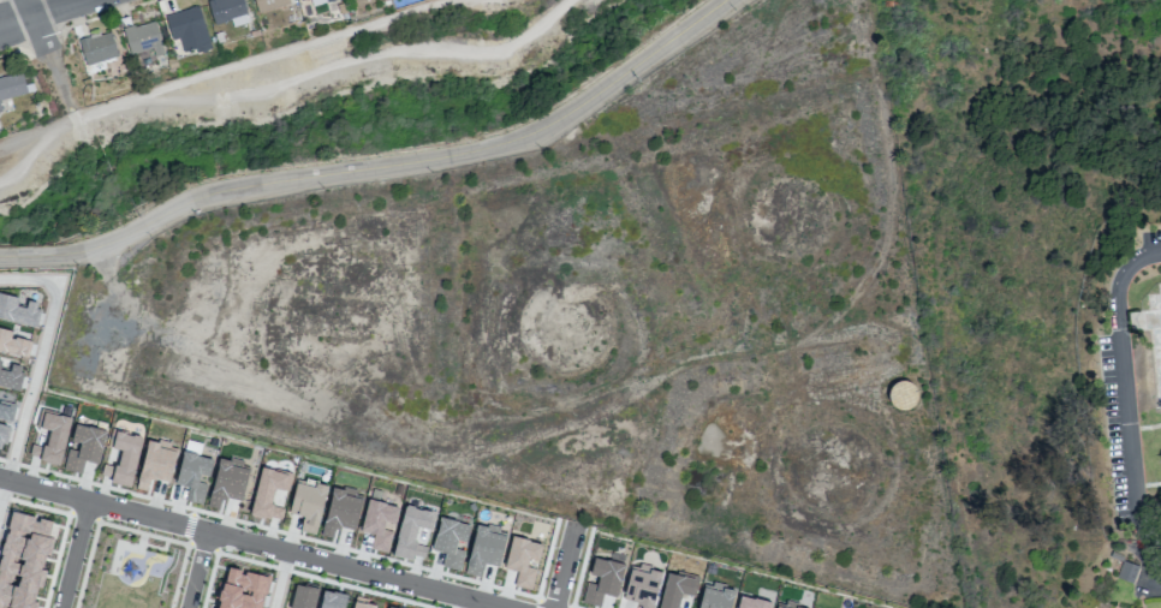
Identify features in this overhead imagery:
building: (302, 0)
building: (328, 0)
building: (310, 1)
building: (275, 5)
building: (231, 11)
road: (48, 14)
building: (192, 31)
road: (46, 36)
building: (145, 37)
building: (100, 48)
building: (11, 85)
building: (0, 109)
road: (381, 168)
building: (17, 310)
building: (13, 344)
road: (40, 357)
building: (0, 362)
road: (1123, 375)
building: (11, 376)
building: (6, 411)
building: (2, 434)
building: (50, 437)
building: (84, 447)
building: (123, 459)
building: (156, 463)
building: (192, 475)
building: (227, 481)
road: (2, 490)
building: (269, 493)
building: (308, 503)
road: (91, 511)
building: (341, 511)
building: (379, 521)
road: (65, 526)
building: (411, 527)
road: (130, 530)
road: (197, 538)
building: (451, 541)
road: (1141, 541)
road: (243, 543)
road: (73, 554)
building: (523, 559)
building: (22, 560)
road: (564, 566)
park: (130, 570)
road: (197, 570)
building: (1127, 571)
road: (298, 572)
building: (602, 580)
road: (280, 583)
building: (642, 585)
building: (243, 589)
building: (674, 590)
building: (303, 596)
building: (715, 596)
building: (332, 600)
building: (754, 603)
road: (458, 604)
building: (214, 607)
building: (352, 607)

